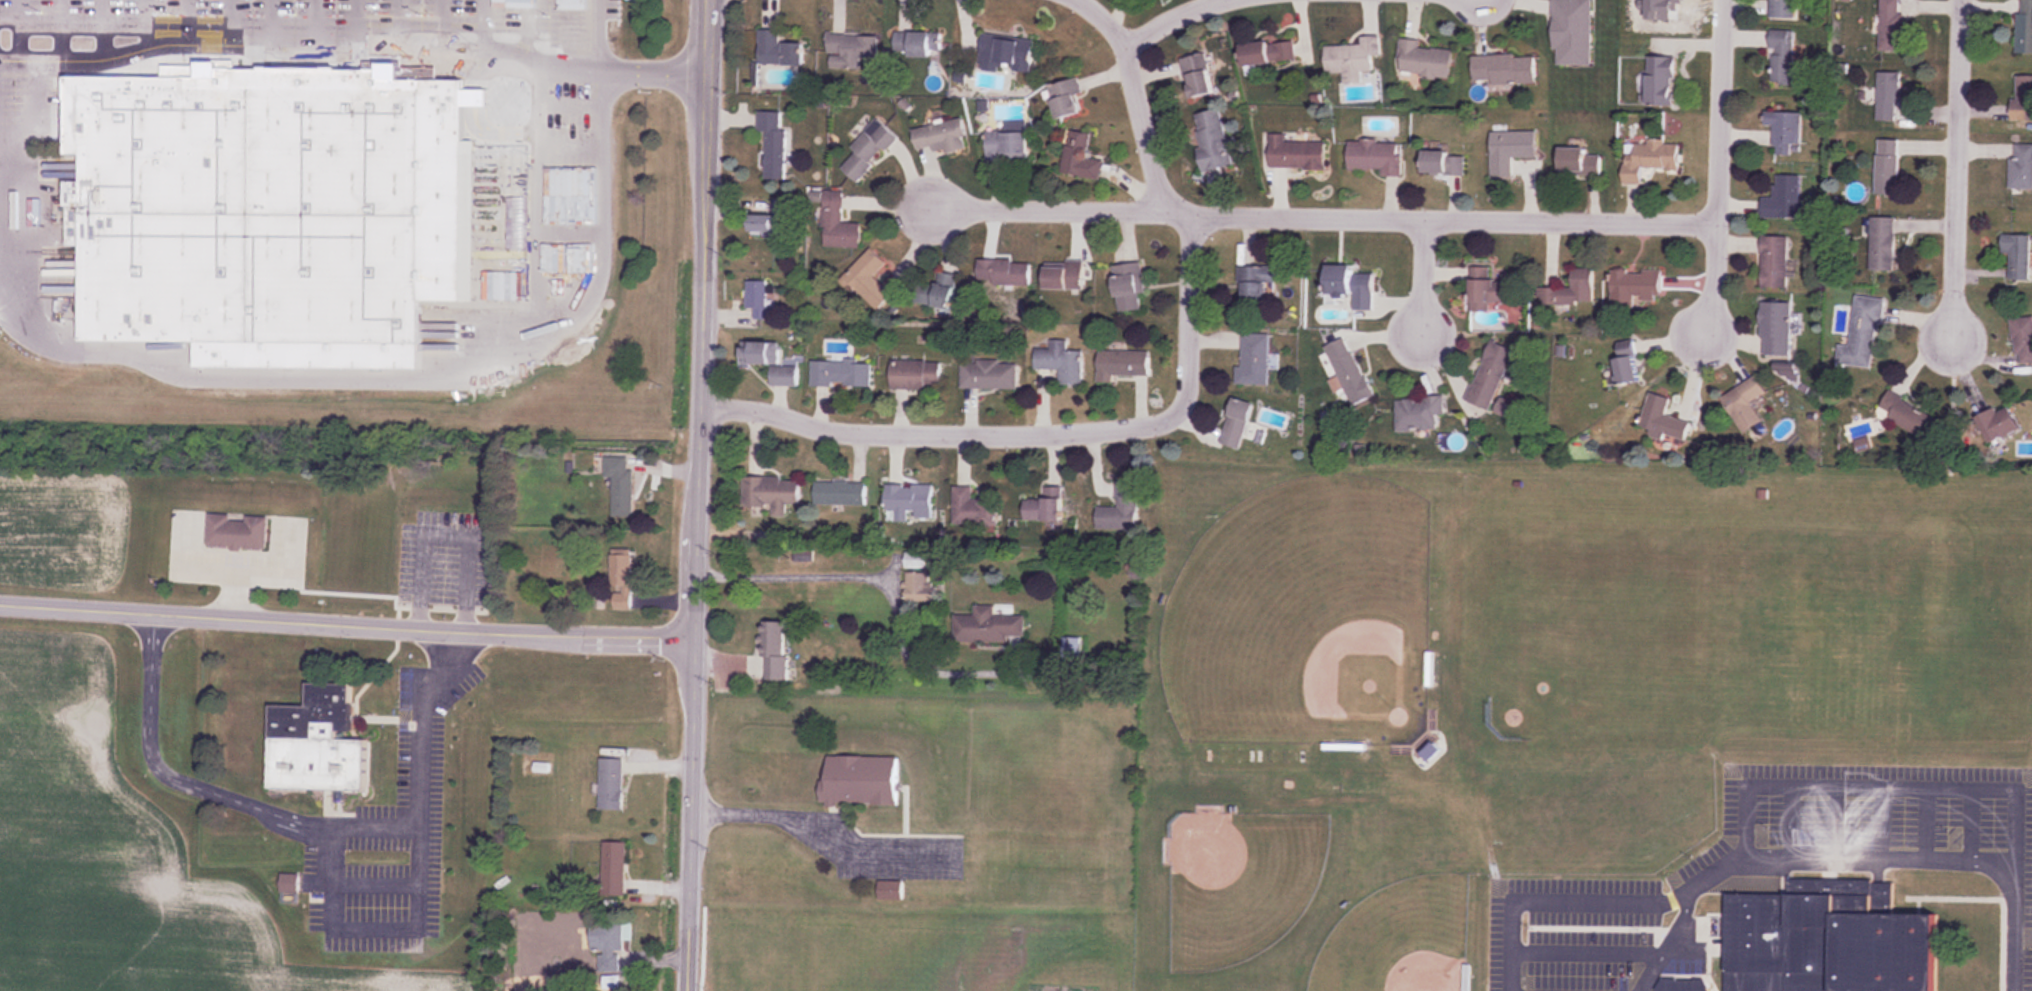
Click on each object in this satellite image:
building: (1782, 9)
building: (1664, 14)
parking lot: (287, 20)
road: (1104, 20)
road: (1167, 20)
road: (402, 23)
road: (444, 23)
road: (484, 23)
building: (1890, 25)
building: (2024, 26)
road: (20, 28)
road: (356, 28)
road: (524, 28)
road: (59, 29)
road: (105, 29)
road: (144, 29)
road: (191, 29)
road: (231, 29)
road: (272, 30)
road: (316, 30)
building: (1572, 32)
road: (567, 33)
road: (600, 35)
road: (709, 35)
building: (916, 44)
building: (852, 48)
building: (778, 49)
building: (1267, 52)
building: (1006, 53)
building: (1781, 57)
road: (266, 59)
building: (1355, 60)
building: (1423, 60)
road: (564, 66)
building: (1503, 69)
road: (654, 70)
building: (1660, 81)
building: (1199, 84)
building: (1889, 96)
building: (2022, 98)
building: (1065, 99)
road: (570, 103)
road: (34, 110)
building: (941, 135)
building: (1784, 137)
building: (1213, 140)
building: (773, 143)
building: (1007, 145)
building: (868, 150)
building: (1510, 150)
building: (1295, 153)
building: (1080, 157)
building: (1375, 158)
building: (1648, 159)
building: (1579, 162)
building: (1443, 164)
building: (2020, 166)
building: (1887, 167)
road: (1718, 170)
road: (1956, 172)
building: (515, 184)
road: (570, 185)
building: (1783, 199)
road: (538, 203)
building: (265, 214)
road: (1322, 215)
building: (772, 220)
road: (1183, 220)
building: (839, 224)
road: (570, 232)
building: (1882, 244)
building: (2018, 256)
building: (1774, 263)
road: (569, 272)
building: (1004, 272)
building: (1063, 275)
road: (1422, 277)
building: (869, 278)
building: (1255, 284)
building: (1128, 285)
building: (1350, 285)
building: (1633, 287)
building: (1487, 289)
building: (945, 290)
building: (1570, 291)
building: (759, 297)
building: (1775, 328)
building: (1863, 334)
building: (2022, 340)
building: (1253, 359)
building: (769, 361)
building: (1061, 362)
building: (1122, 364)
building: (1625, 364)
building: (1347, 371)
building: (841, 373)
building: (916, 374)
building: (989, 375)
building: (1490, 375)
road: (411, 378)
building: (1744, 404)
building: (1418, 412)
building: (1906, 415)
building: (1662, 420)
building: (1235, 423)
building: (1998, 423)
road: (943, 432)
building: (620, 485)
building: (771, 493)
building: (840, 493)
building: (908, 500)
building: (1044, 506)
building: (972, 508)
building: (1119, 510)
road: (696, 531)
building: (236, 533)
building: (622, 579)
road: (881, 586)
building: (917, 587)
park: (1304, 620)
road: (346, 626)
building: (988, 627)
building: (1071, 648)
building: (774, 651)
building: (315, 741)
road: (171, 771)
building: (860, 779)
building: (611, 783)
road: (417, 822)
road: (374, 823)
road: (1770, 859)
building: (613, 868)
building: (288, 882)
building: (890, 889)
building: (1828, 939)
building: (607, 945)
building: (1684, 985)

